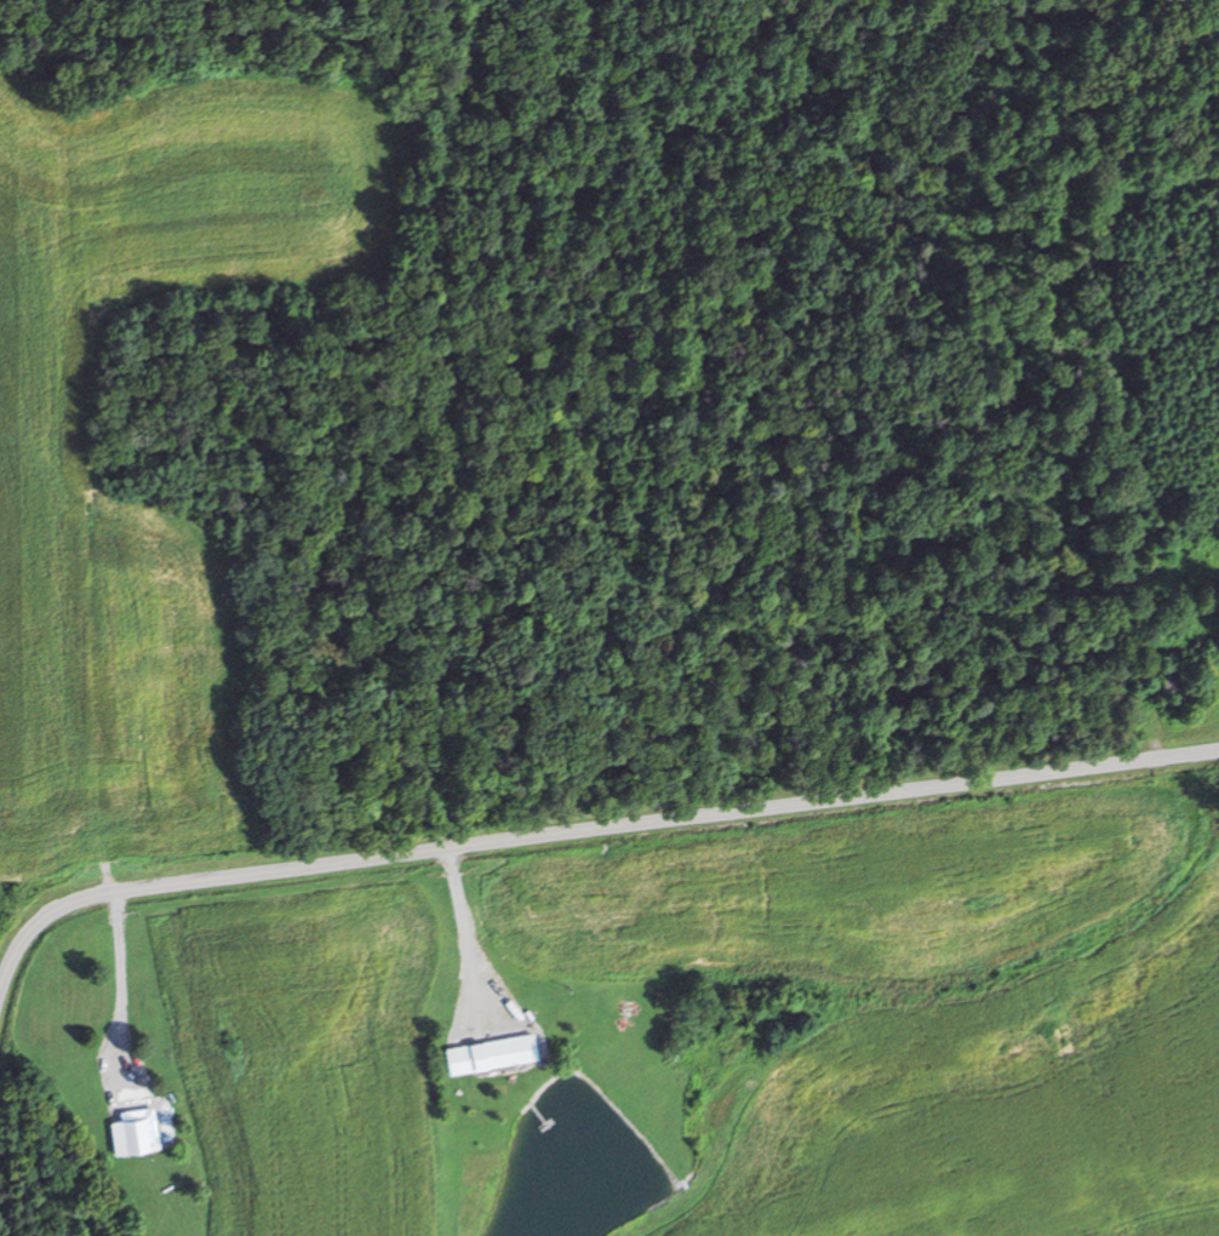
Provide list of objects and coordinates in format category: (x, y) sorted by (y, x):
road: (578, 834)

